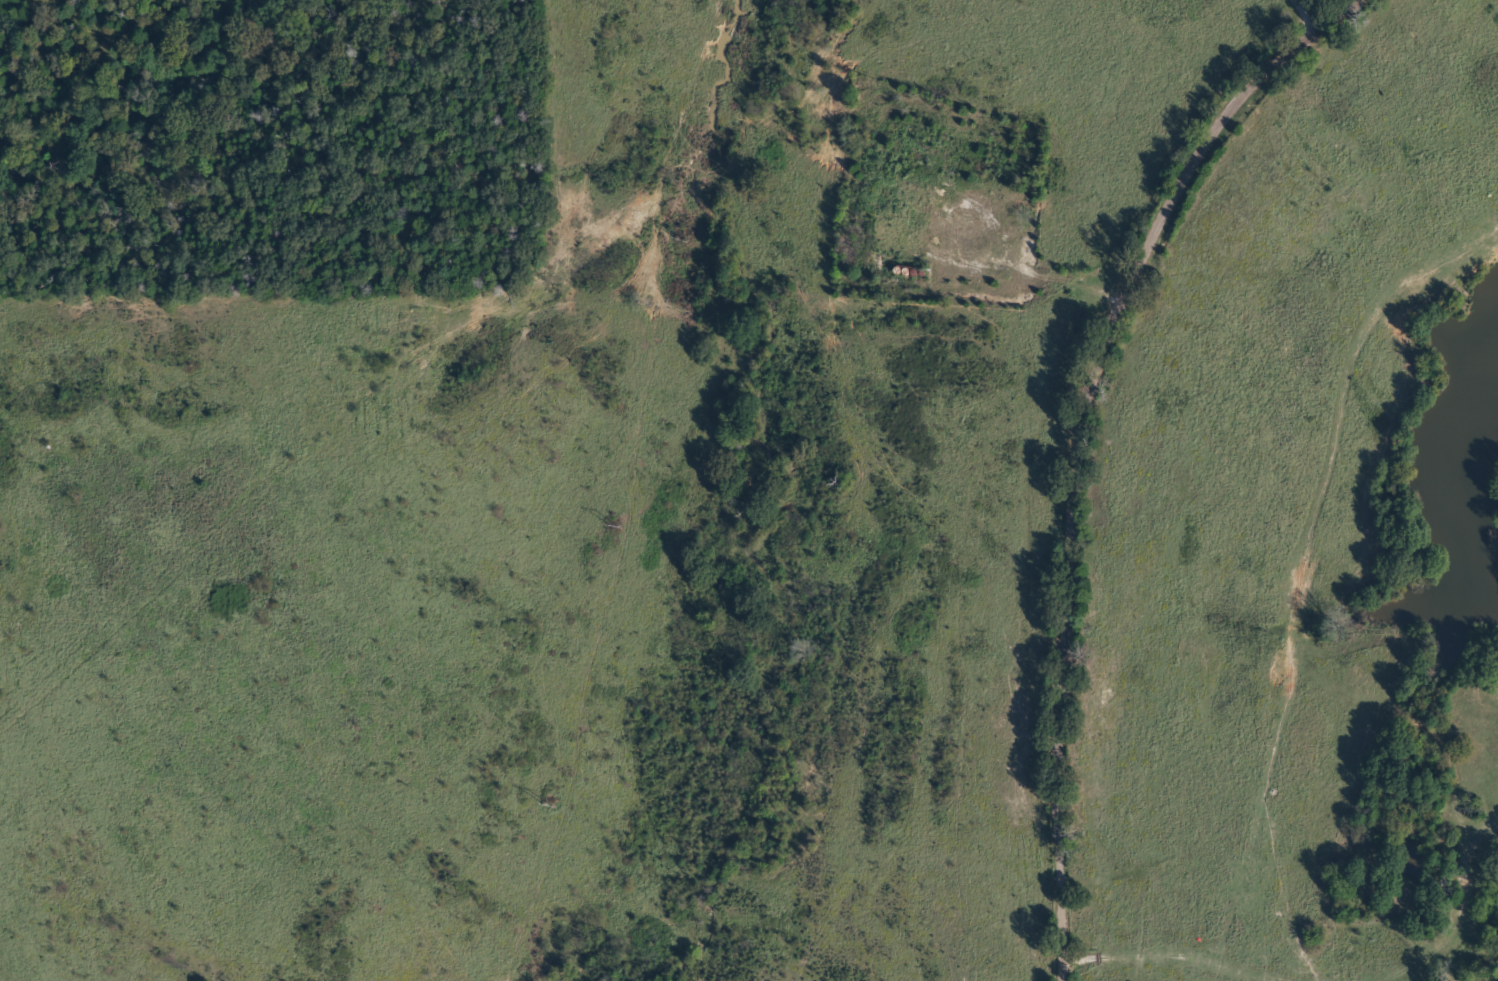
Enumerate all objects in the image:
road: (1061, 439)

